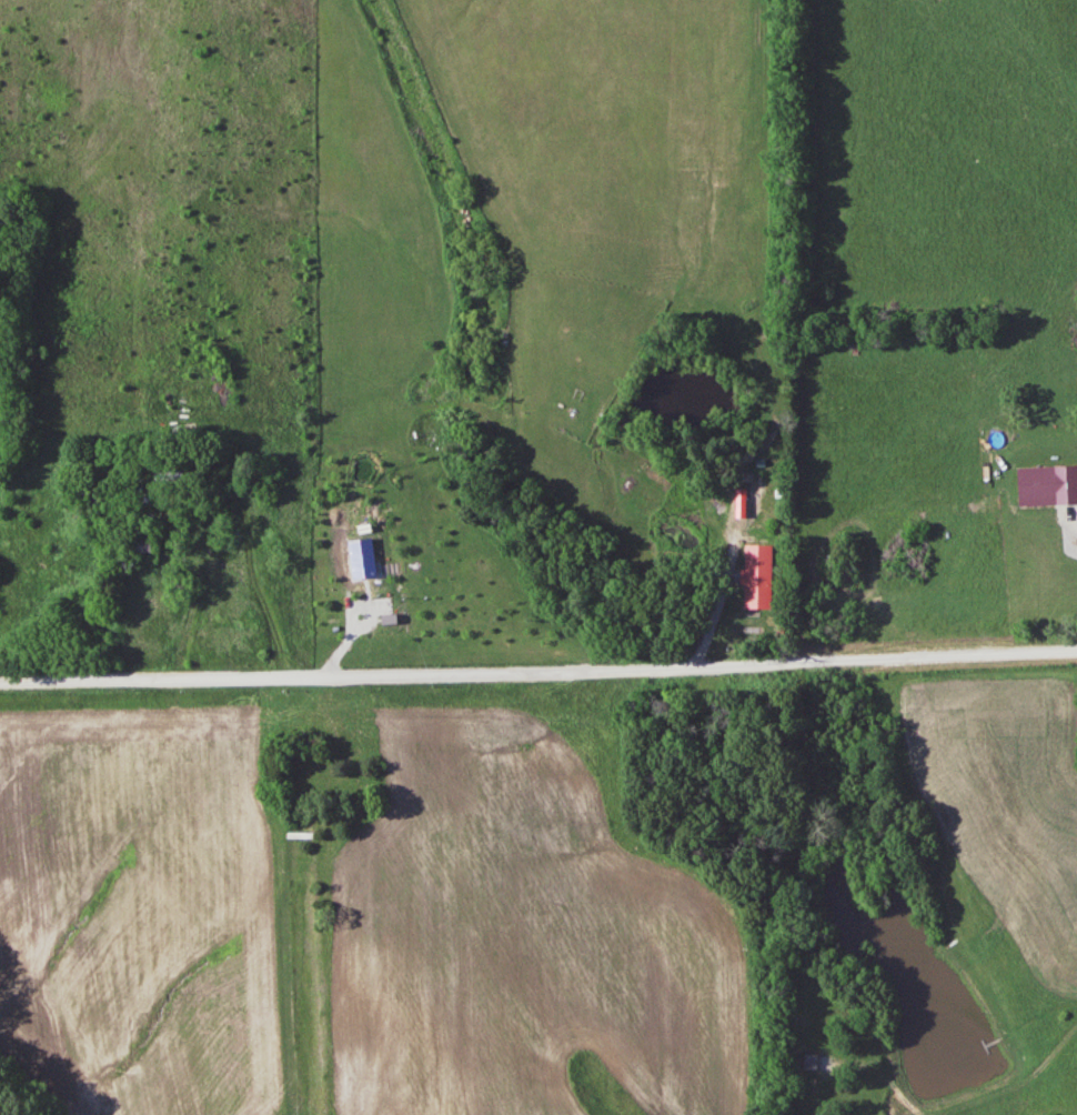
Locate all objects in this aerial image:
building: (180, 475)
building: (149, 548)
road: (223, 564)
building: (1068, 574)
building: (763, 580)
road: (538, 673)

